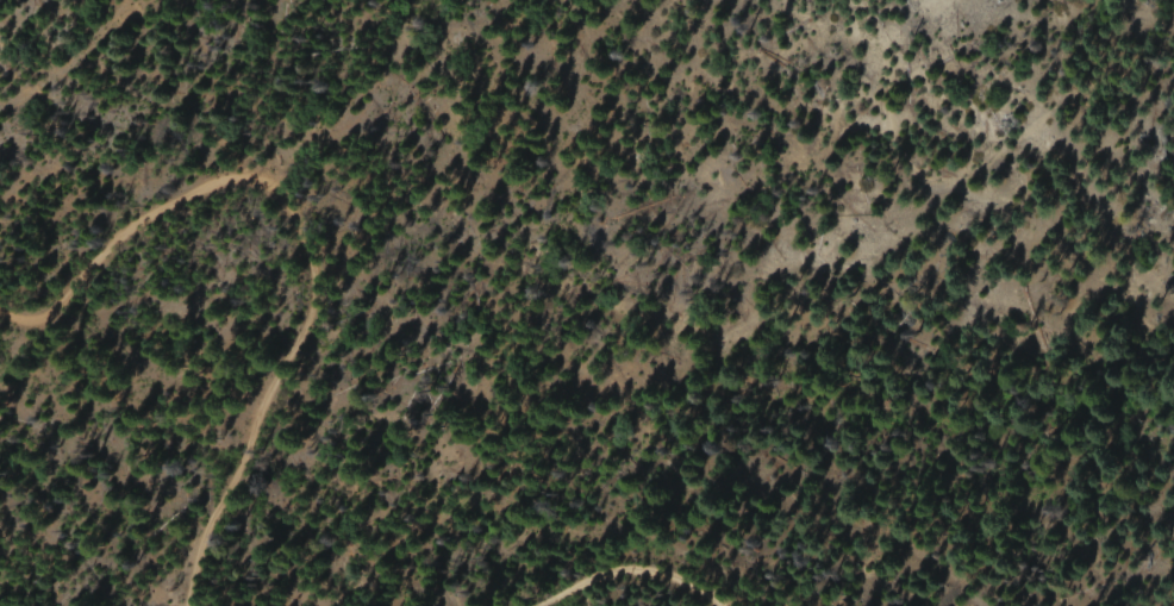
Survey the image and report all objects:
road: (305, 244)
road: (623, 573)

